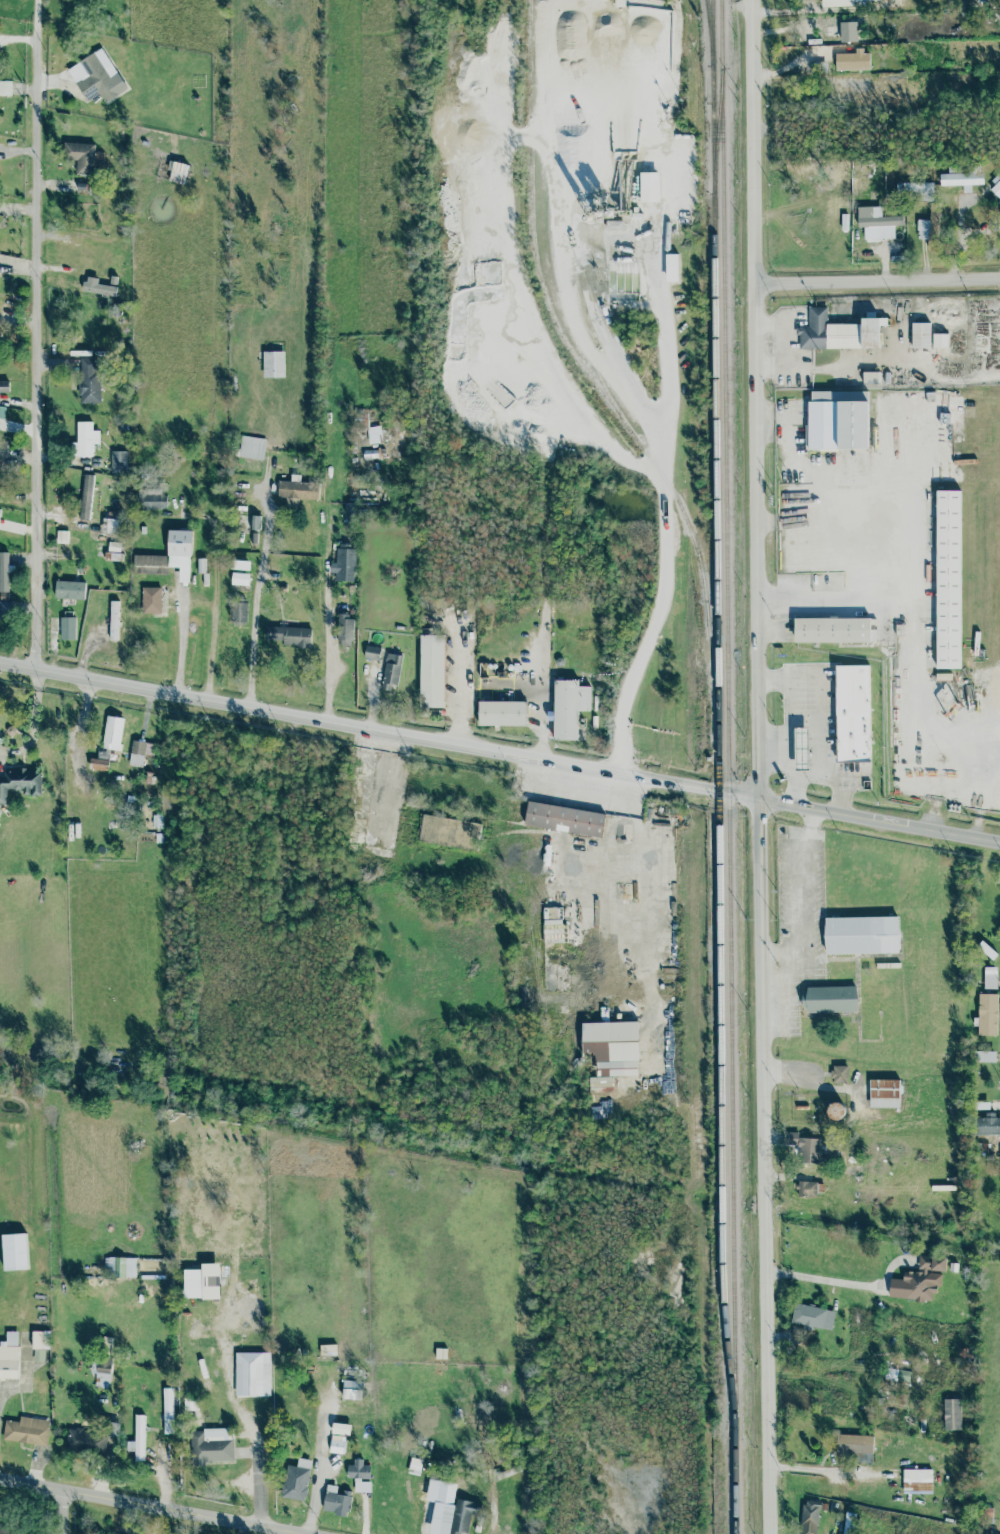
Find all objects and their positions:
building: (837, 2)
railway: (712, 25)
road: (693, 48)
building: (852, 60)
building: (97, 76)
railway: (712, 84)
building: (5, 87)
building: (80, 155)
building: (177, 171)
building: (961, 179)
building: (648, 186)
building: (996, 188)
building: (916, 190)
building: (999, 204)
building: (877, 222)
building: (615, 225)
railway: (531, 233)
road: (958, 238)
road: (656, 261)
building: (671, 267)
road: (876, 281)
building: (97, 286)
road: (40, 333)
building: (870, 333)
building: (922, 335)
building: (939, 340)
building: (273, 364)
railway: (599, 377)
building: (88, 380)
building: (4, 386)
road: (643, 409)
building: (1, 422)
building: (853, 424)
building: (84, 439)
building: (251, 447)
building: (3, 449)
building: (118, 461)
building: (297, 490)
building: (86, 497)
building: (152, 498)
building: (0, 508)
building: (349, 510)
road: (912, 518)
building: (254, 522)
building: (110, 525)
building: (61, 536)
building: (113, 550)
building: (169, 556)
building: (344, 562)
building: (242, 565)
building: (4, 572)
building: (240, 578)
building: (949, 579)
building: (69, 589)
building: (151, 599)
building: (6, 606)
building: (238, 611)
building: (113, 619)
building: (344, 622)
road: (253, 624)
building: (67, 628)
building: (833, 628)
building: (290, 635)
building: (371, 652)
road: (329, 658)
building: (392, 671)
building: (432, 671)
road: (540, 704)
building: (568, 707)
building: (503, 712)
building: (853, 712)
road: (34, 721)
road: (788, 724)
building: (112, 732)
road: (819, 737)
road: (773, 747)
building: (803, 747)
road: (499, 750)
building: (140, 751)
railway: (718, 754)
building: (99, 764)
railway: (728, 766)
road: (758, 767)
road: (805, 775)
building: (20, 782)
building: (564, 819)
building: (449, 832)
building: (862, 933)
building: (987, 949)
road: (662, 964)
building: (990, 977)
building: (831, 999)
building: (987, 1014)
building: (611, 1048)
building: (985, 1056)
building: (839, 1073)
building: (884, 1093)
building: (836, 1110)
building: (988, 1124)
building: (808, 1150)
building: (806, 1188)
building: (14, 1251)
building: (120, 1266)
building: (919, 1280)
building: (202, 1281)
road: (832, 1285)
building: (812, 1316)
building: (39, 1345)
building: (327, 1350)
building: (9, 1355)
road: (25, 1373)
building: (253, 1374)
building: (351, 1389)
building: (167, 1410)
road: (241, 1413)
building: (952, 1414)
building: (26, 1430)
building: (137, 1439)
building: (89, 1441)
building: (337, 1442)
building: (210, 1445)
building: (855, 1446)
building: (414, 1465)
road: (320, 1467)
road: (821, 1470)
building: (359, 1475)
building: (296, 1479)
building: (917, 1481)
building: (336, 1500)
road: (152, 1505)
road: (61, 1512)
building: (452, 1517)
building: (809, 1517)
building: (848, 1523)
building: (8, 1529)

